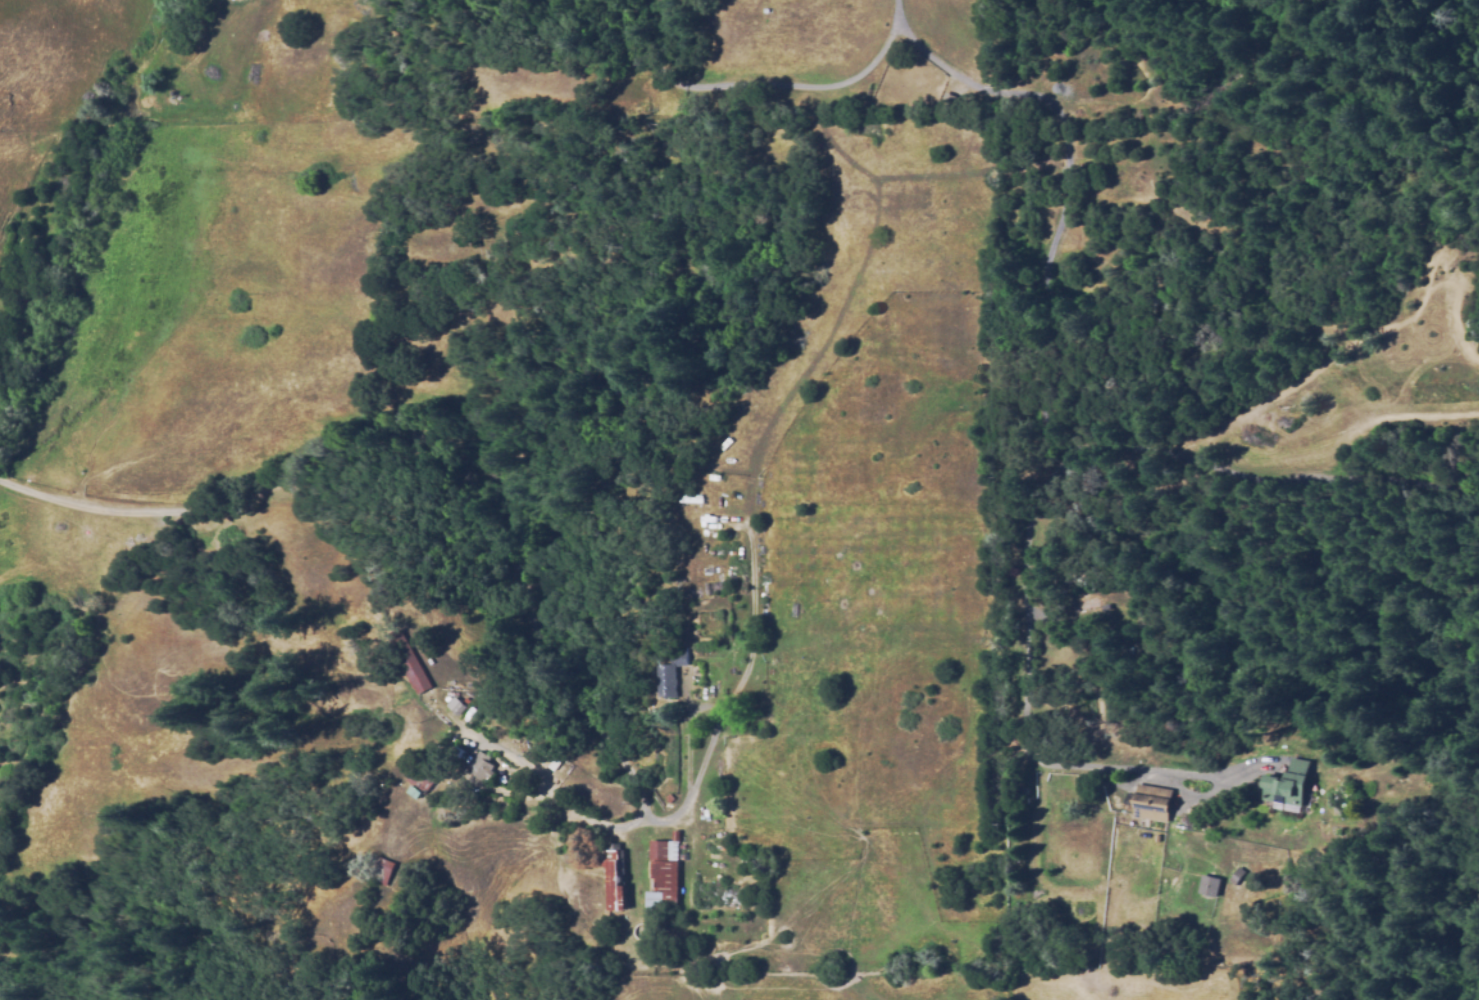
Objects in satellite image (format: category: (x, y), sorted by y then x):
building: (232, 0)
road: (896, 7)
road: (1045, 390)
road: (74, 515)
building: (412, 664)
building: (668, 675)
building: (456, 707)
building: (482, 766)
building: (420, 782)
building: (1288, 787)
building: (670, 797)
building: (1153, 802)
building: (1158, 838)
building: (1071, 857)
building: (383, 871)
building: (616, 875)
building: (665, 876)
building: (1238, 876)
building: (1210, 885)
building: (1070, 889)

